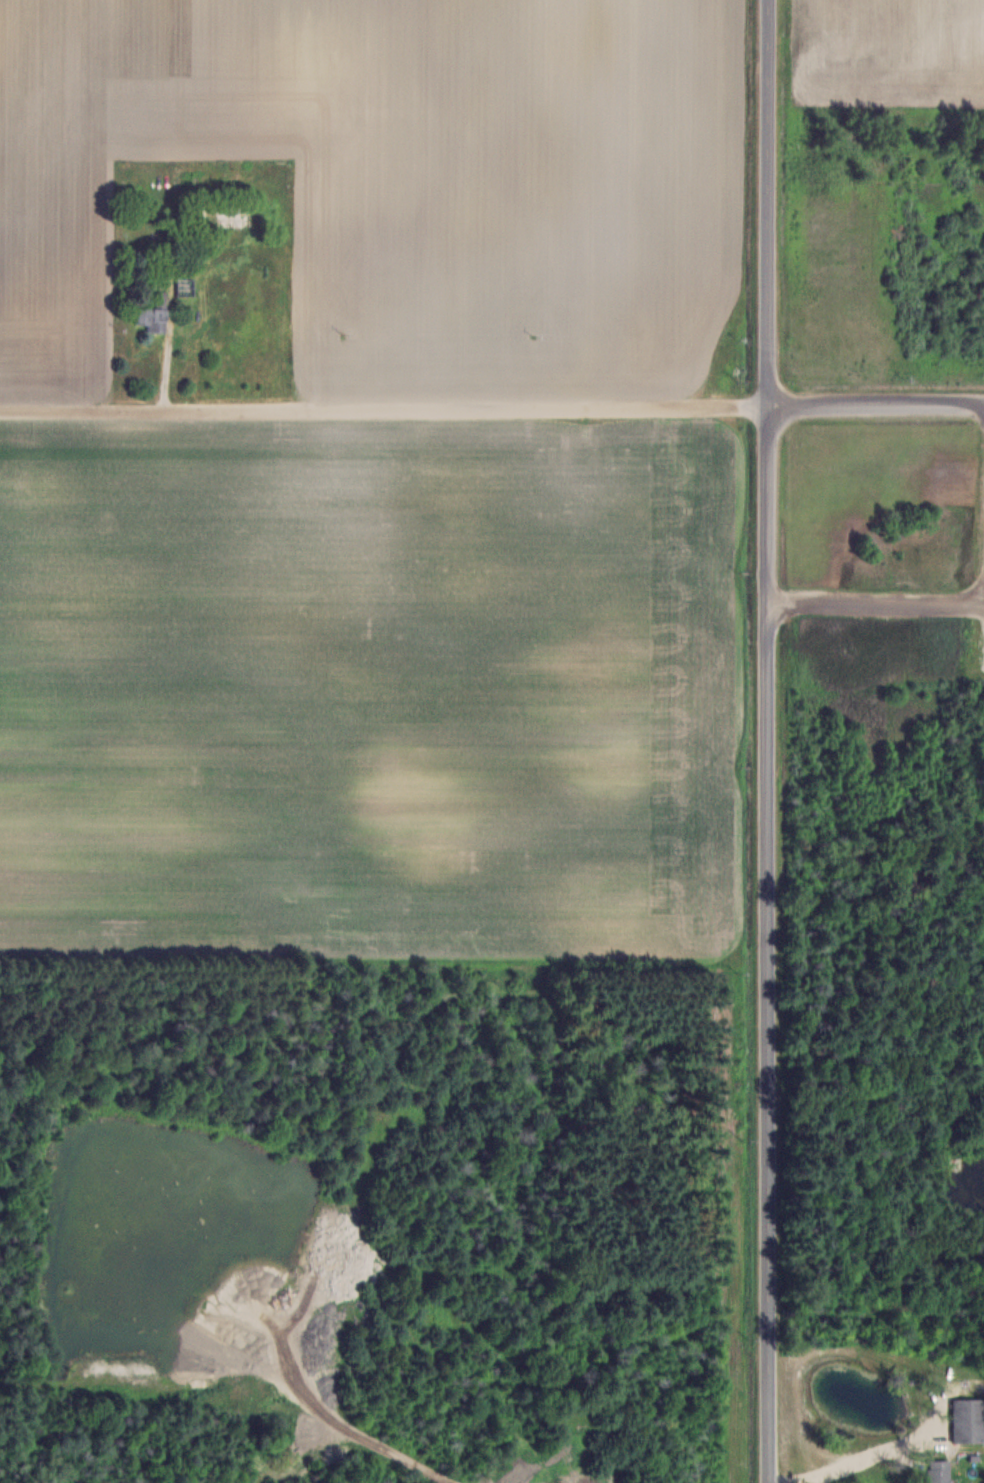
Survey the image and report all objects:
building: (225, 222)
building: (154, 315)
road: (492, 406)
road: (767, 741)
building: (968, 1419)
building: (574, 1424)
road: (848, 1464)
building: (939, 1474)

